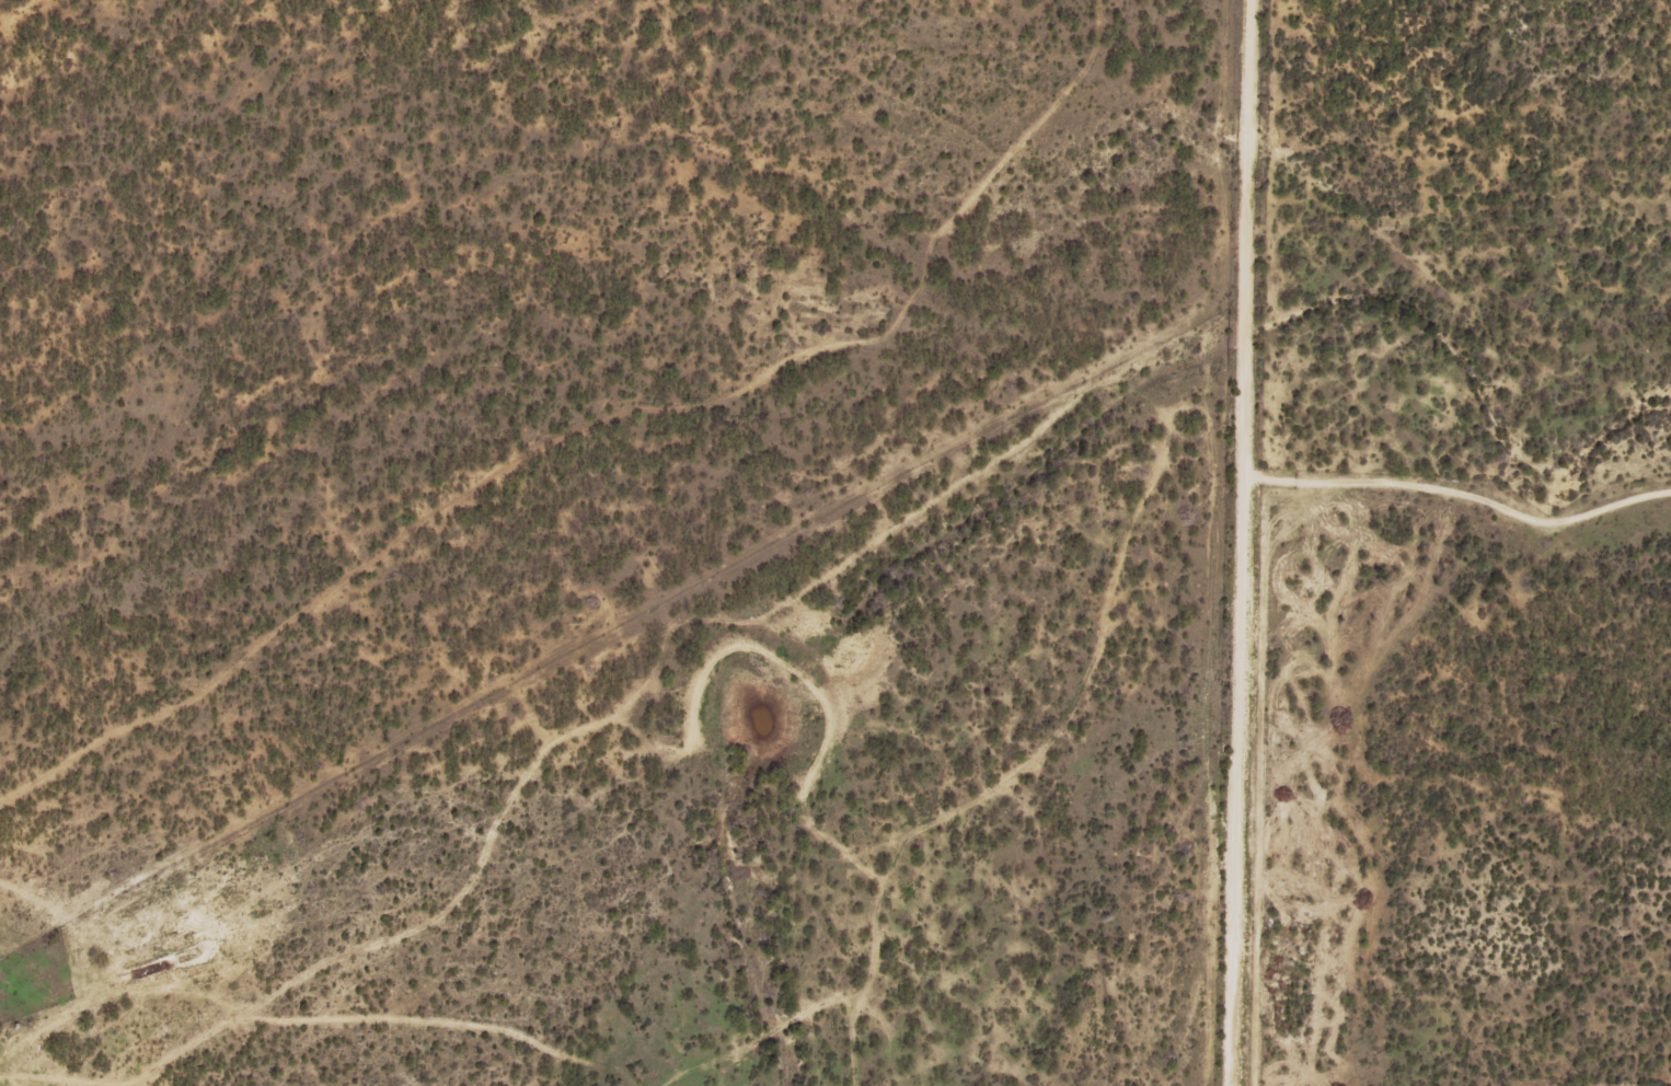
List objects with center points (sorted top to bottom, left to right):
road: (1242, 543)

